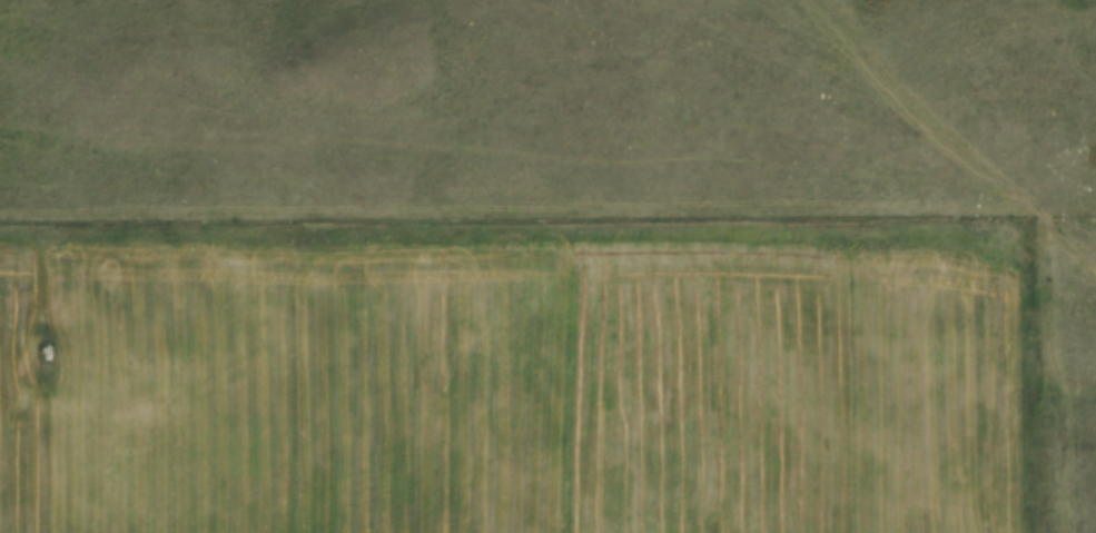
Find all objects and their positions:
road: (1027, 396)

